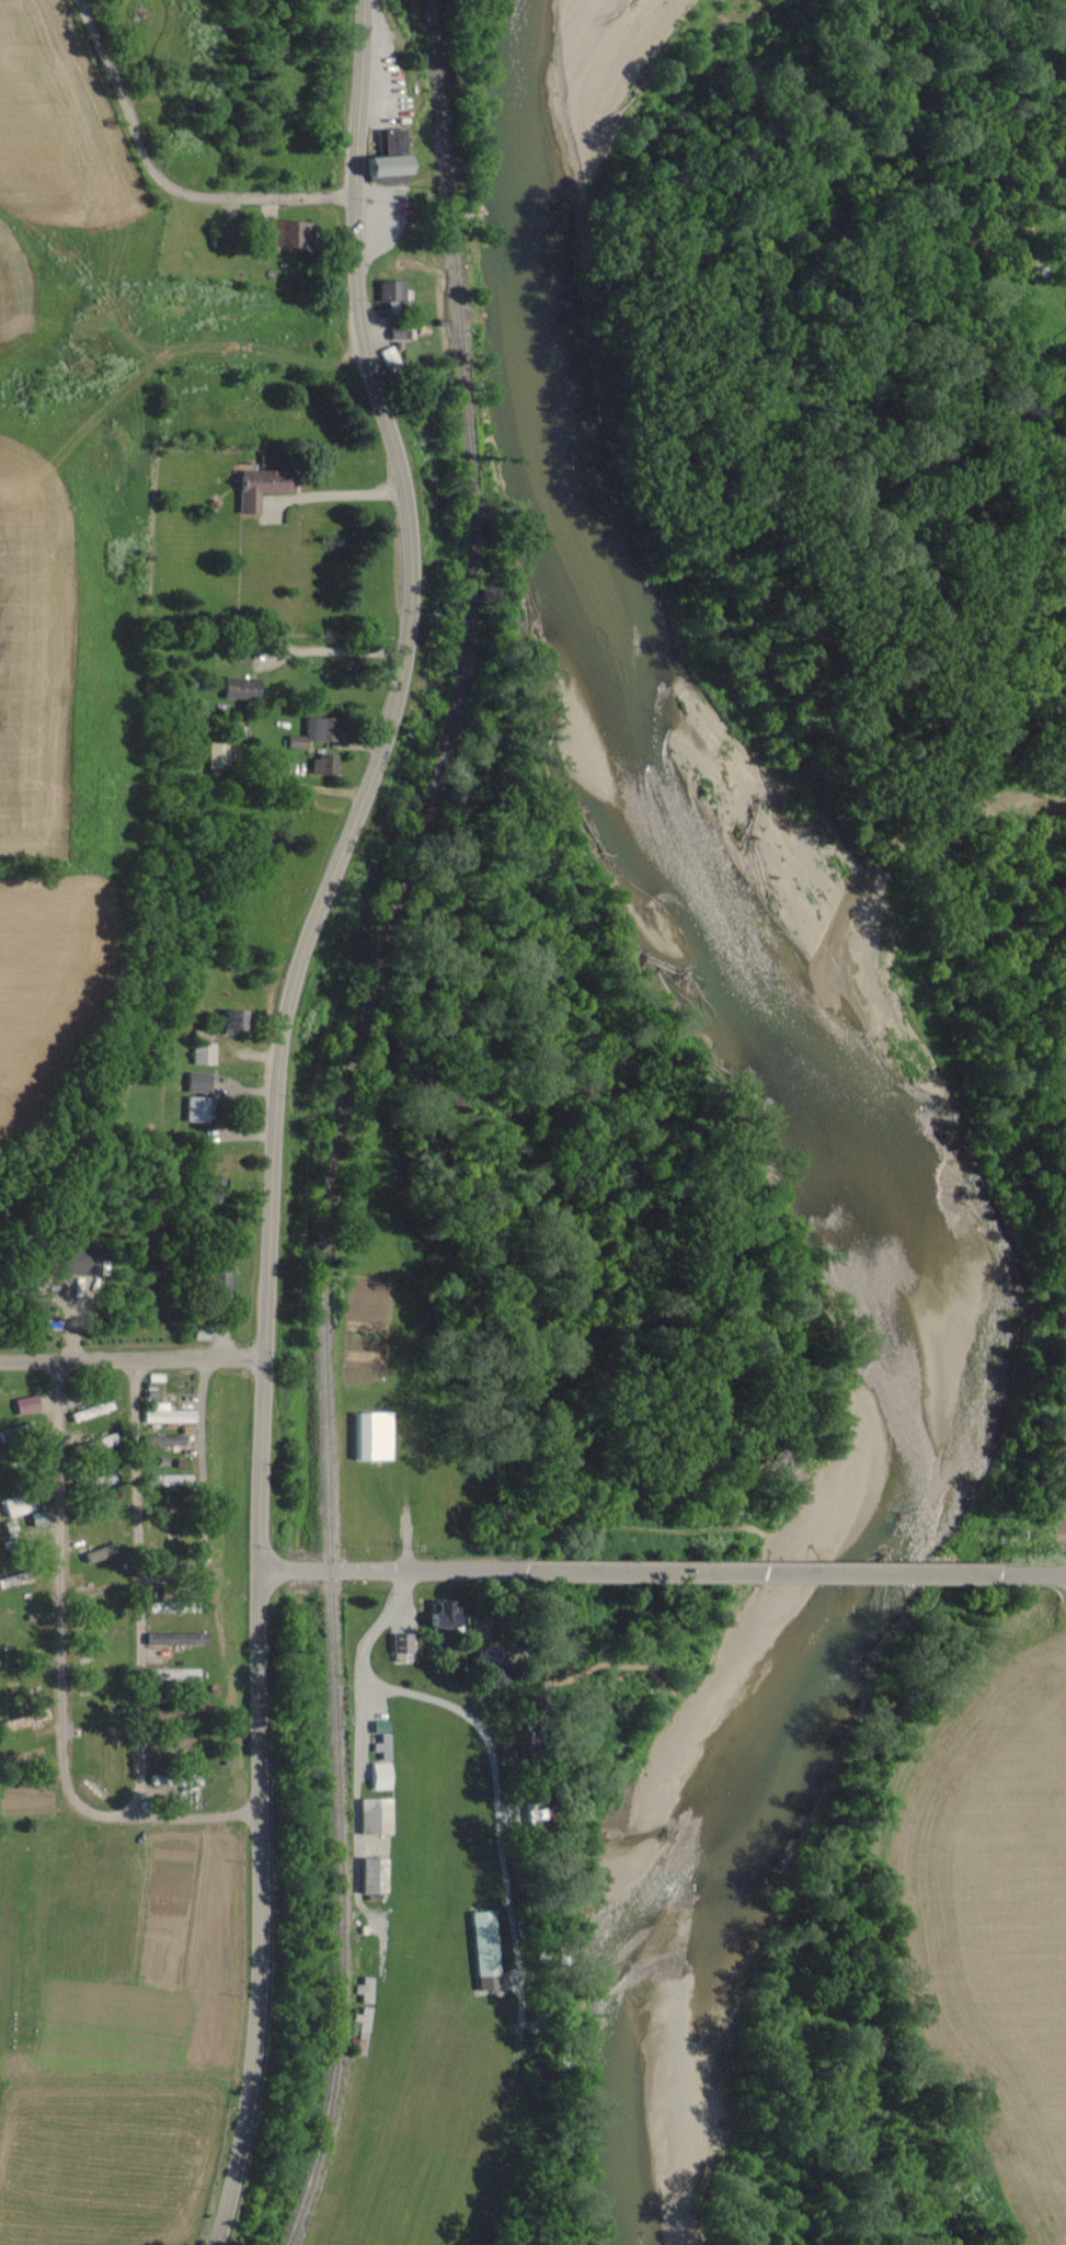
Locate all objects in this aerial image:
building: (383, 158)
road: (159, 179)
building: (286, 236)
building: (390, 294)
building: (257, 487)
road: (332, 491)
road: (331, 646)
building: (240, 688)
building: (314, 732)
building: (218, 756)
building: (322, 765)
building: (230, 1021)
building: (202, 1055)
building: (195, 1083)
river: (893, 1106)
building: (195, 1110)
road: (273, 1110)
railway: (341, 1117)
building: (217, 1192)
building: (80, 1263)
building: (217, 1284)
road: (130, 1358)
building: (24, 1406)
building: (165, 1415)
building: (371, 1437)
building: (160, 1441)
building: (167, 1481)
building: (14, 1505)
road: (390, 1570)
road: (767, 1572)
road: (1038, 1573)
road: (59, 1580)
road: (135, 1583)
building: (438, 1621)
building: (172, 1639)
building: (400, 1645)
building: (485, 1667)
building: (170, 1676)
building: (378, 1728)
building: (380, 1767)
building: (186, 1780)
road: (100, 1813)
road: (193, 1813)
building: (372, 1817)
building: (370, 1877)
building: (482, 1951)
airport: (425, 1975)
airport runway: (401, 1995)

